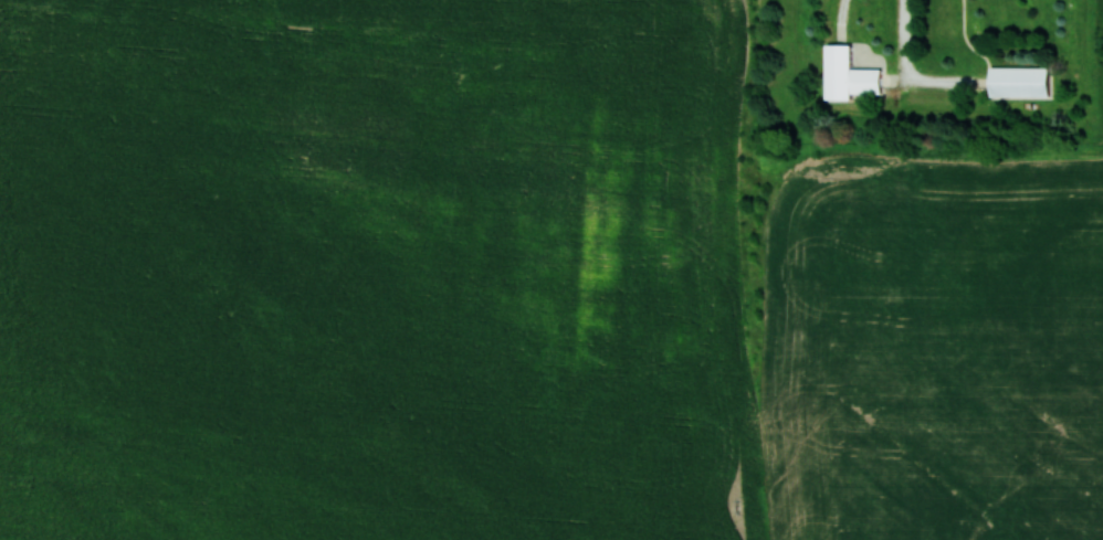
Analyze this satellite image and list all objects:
building: (849, 74)
building: (1020, 81)
crop: (934, 350)

